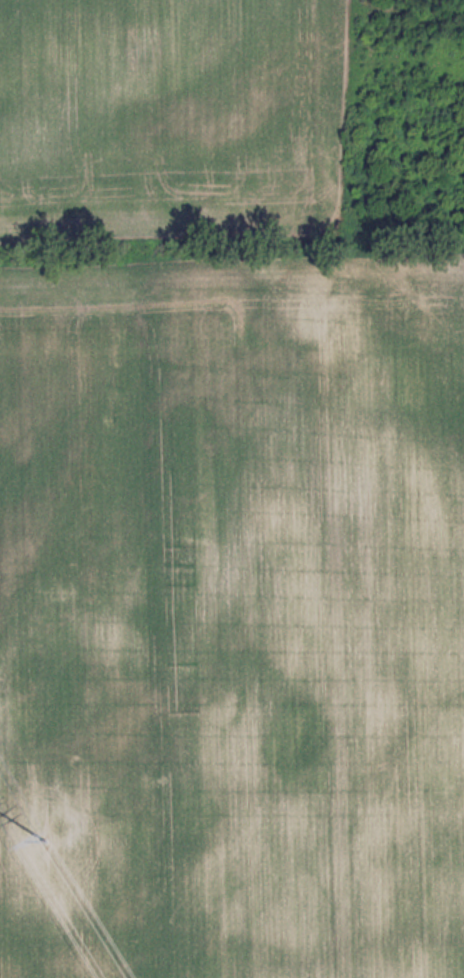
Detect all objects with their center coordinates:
power tower: (44, 838)

